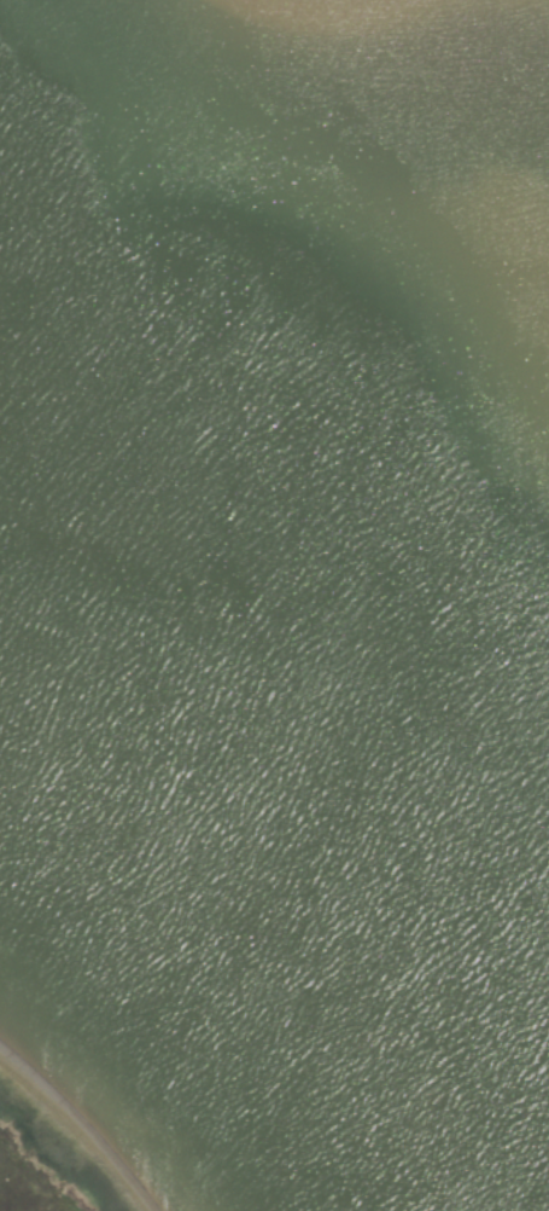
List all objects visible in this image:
river: (274, 811)

